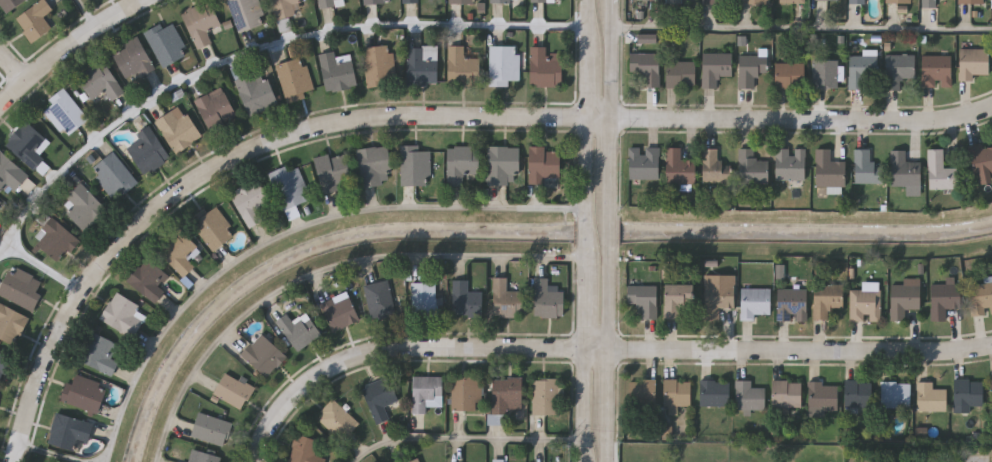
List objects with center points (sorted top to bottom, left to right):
building: (548, 0)
building: (651, 0)
building: (829, 0)
building: (380, 1)
building: (412, 1)
building: (466, 1)
building: (502, 1)
building: (793, 1)
building: (899, 1)
building: (675, 2)
building: (719, 2)
building: (755, 2)
building: (858, 2)
building: (972, 2)
building: (331, 3)
building: (11, 4)
building: (930, 4)
road: (615, 6)
building: (289, 7)
building: (247, 13)
road: (87, 15)
building: (36, 20)
building: (202, 23)
building: (285, 25)
road: (803, 28)
road: (588, 29)
building: (648, 38)
building: (168, 43)
road: (69, 49)
road: (257, 50)
building: (135, 59)
road: (15, 62)
building: (973, 63)
building: (424, 64)
building: (505, 64)
building: (380, 65)
building: (464, 65)
road: (614, 65)
building: (545, 67)
building: (646, 68)
building: (715, 68)
building: (899, 70)
building: (338, 71)
building: (751, 71)
building: (937, 71)
building: (864, 72)
building: (826, 73)
building: (681, 75)
building: (790, 76)
building: (295, 78)
building: (102, 81)
road: (587, 88)
building: (258, 90)
building: (217, 108)
building: (66, 112)
road: (415, 114)
building: (180, 128)
building: (29, 144)
building: (149, 149)
building: (463, 163)
road: (585, 163)
road: (613, 164)
building: (645, 164)
building: (982, 164)
building: (416, 165)
building: (504, 165)
building: (546, 165)
building: (376, 166)
building: (791, 166)
building: (714, 167)
building: (679, 168)
building: (752, 168)
building: (866, 168)
building: (829, 171)
building: (905, 171)
building: (335, 172)
building: (941, 172)
building: (10, 175)
building: (115, 176)
building: (290, 187)
building: (252, 201)
building: (87, 207)
building: (214, 227)
road: (585, 232)
road: (611, 233)
road: (287, 234)
building: (57, 239)
building: (180, 251)
road: (44, 268)
road: (321, 269)
building: (149, 279)
building: (22, 287)
building: (547, 297)
building: (720, 297)
building: (381, 298)
building: (425, 298)
building: (465, 298)
building: (505, 298)
building: (905, 299)
building: (644, 300)
building: (677, 300)
building: (827, 300)
building: (944, 300)
building: (981, 300)
road: (584, 302)
road: (610, 303)
building: (755, 303)
building: (866, 304)
building: (793, 305)
building: (339, 309)
building: (124, 315)
building: (11, 323)
building: (297, 328)
road: (597, 350)
building: (100, 352)
building: (262, 353)
building: (3, 364)
road: (609, 387)
building: (233, 389)
building: (991, 390)
building: (425, 392)
building: (465, 392)
building: (85, 393)
building: (506, 393)
building: (644, 393)
building: (678, 393)
building: (715, 393)
building: (544, 395)
building: (787, 395)
building: (858, 395)
building: (896, 395)
building: (968, 395)
building: (379, 396)
building: (751, 396)
building: (823, 397)
building: (931, 399)
road: (583, 406)
building: (337, 418)
building: (210, 427)
building: (71, 431)
road: (471, 439)
road: (608, 442)
building: (303, 448)
road: (51, 453)
building: (205, 456)
building: (414, 460)
building: (182, 461)
building: (498, 461)

